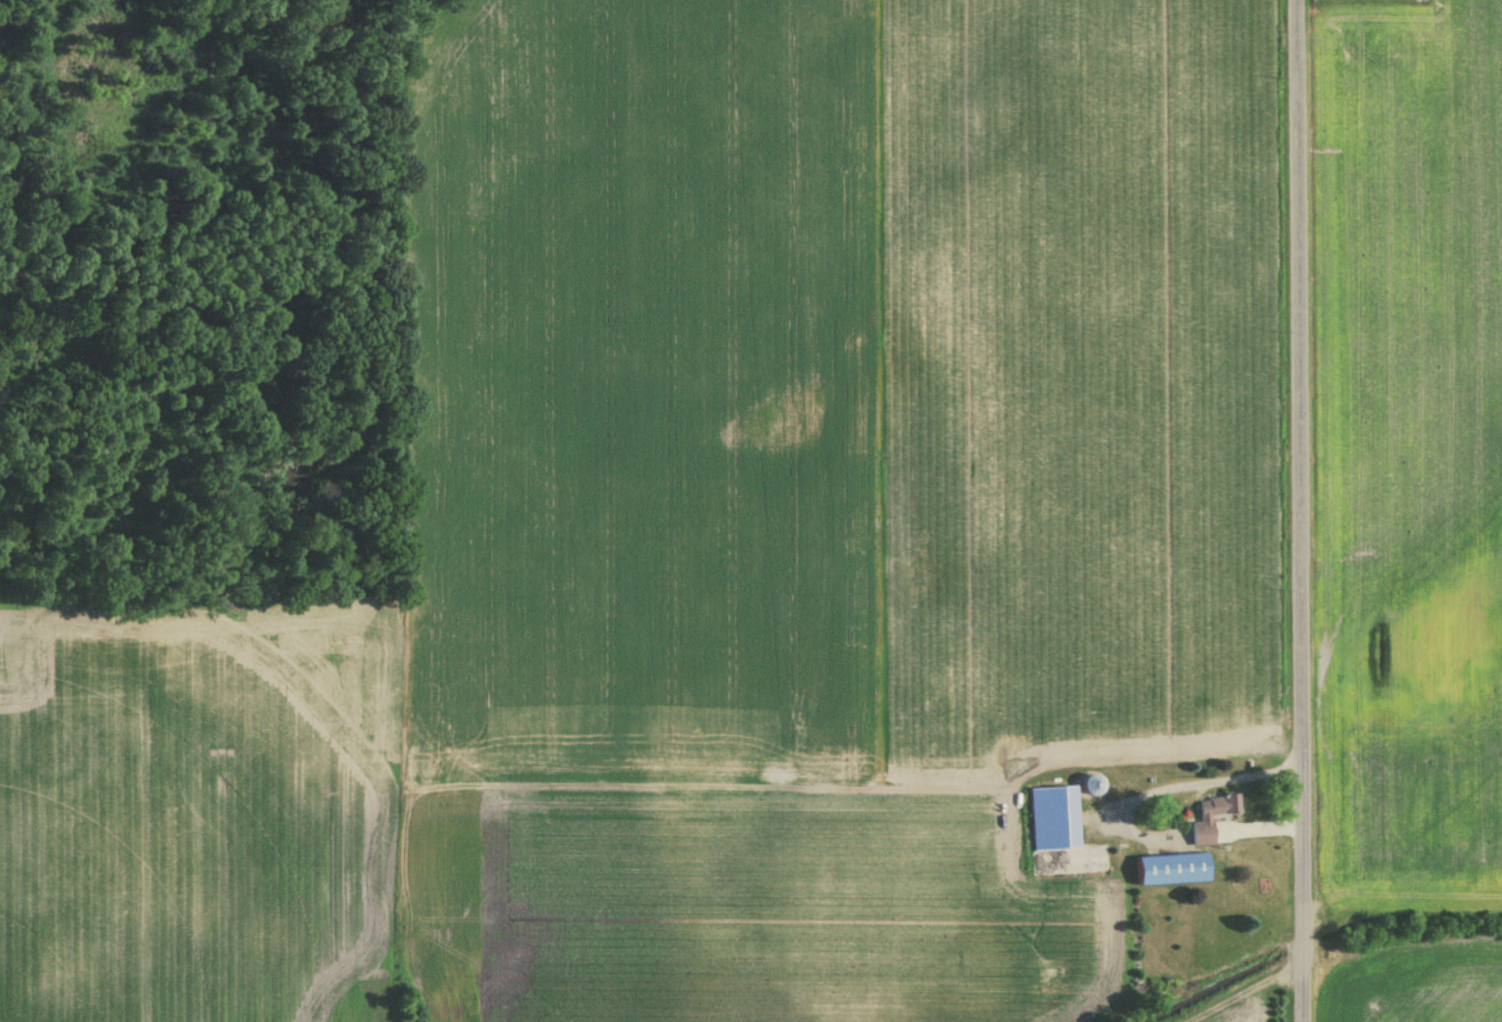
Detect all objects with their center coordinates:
road: (1301, 511)
building: (1086, 785)
building: (1050, 819)
building: (1201, 819)
building: (1166, 870)

